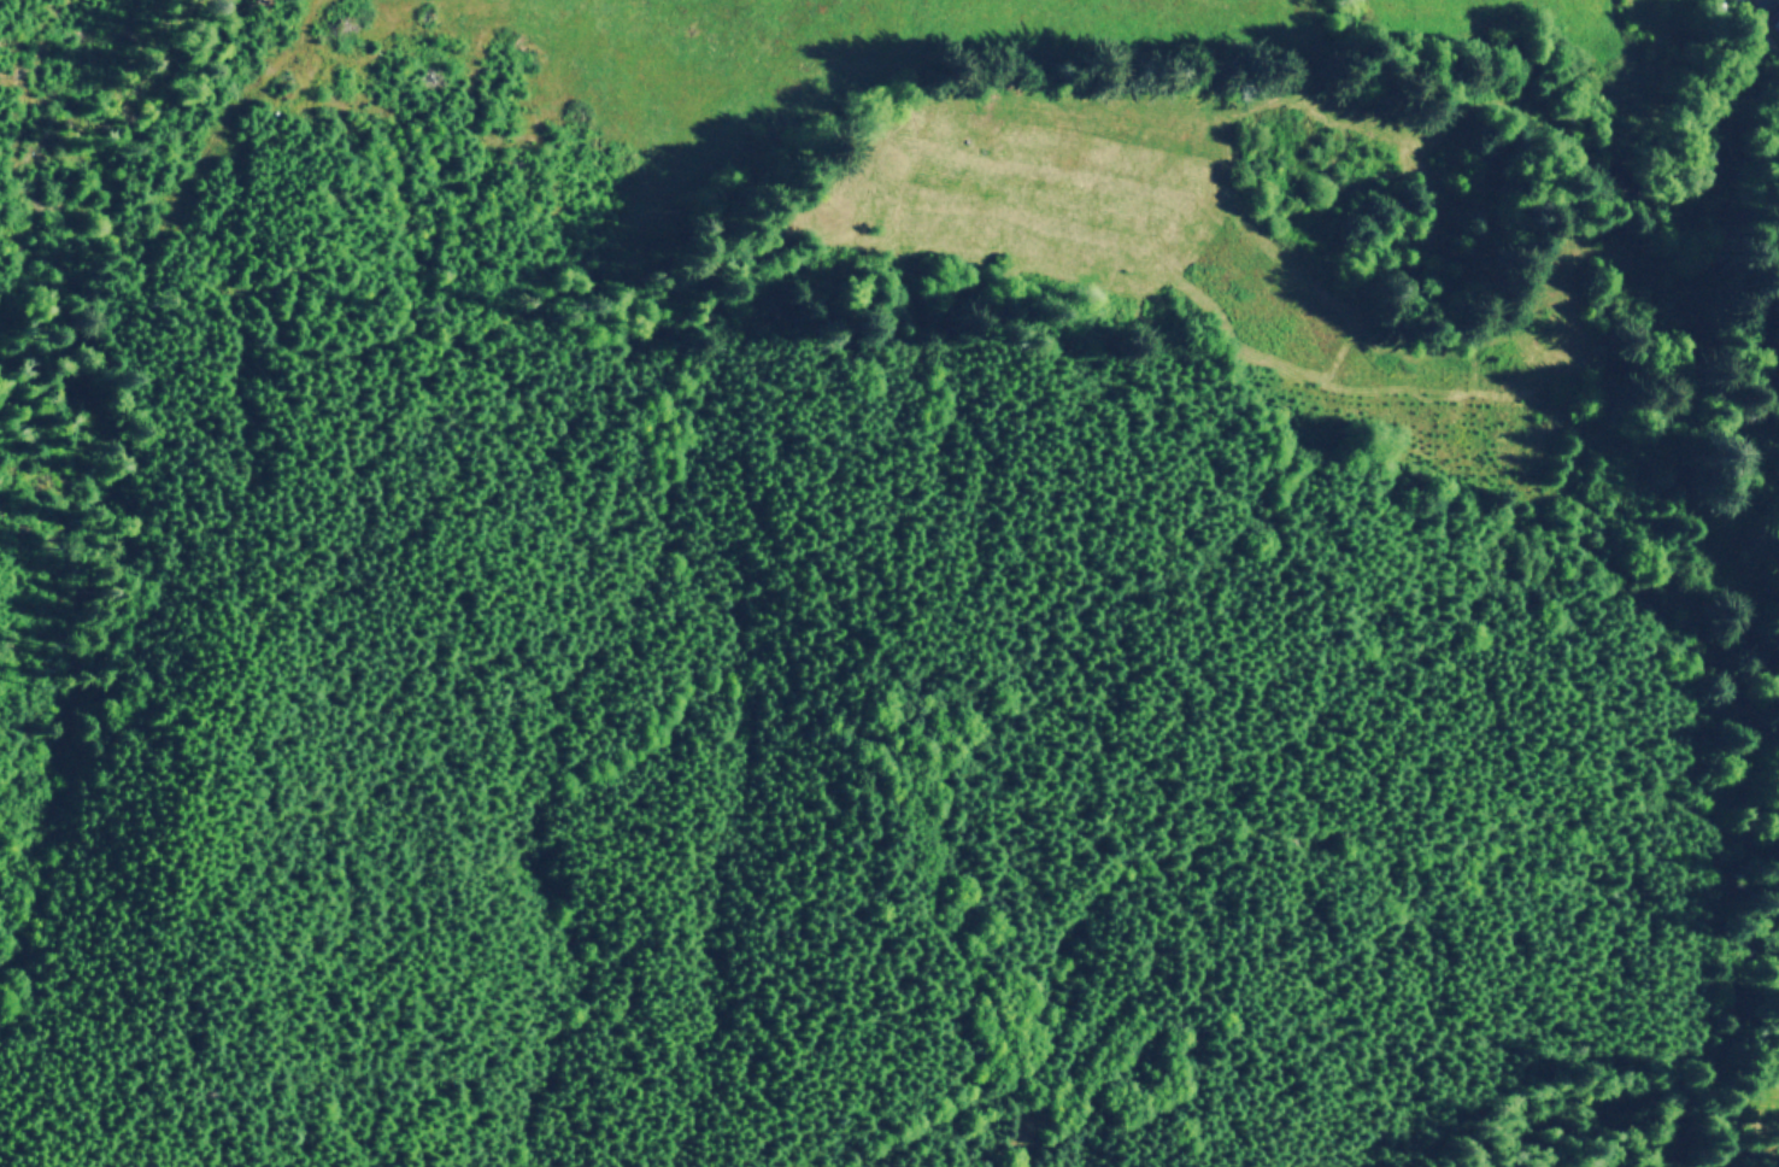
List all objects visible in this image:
road: (1322, 1043)
road: (217, 1160)

